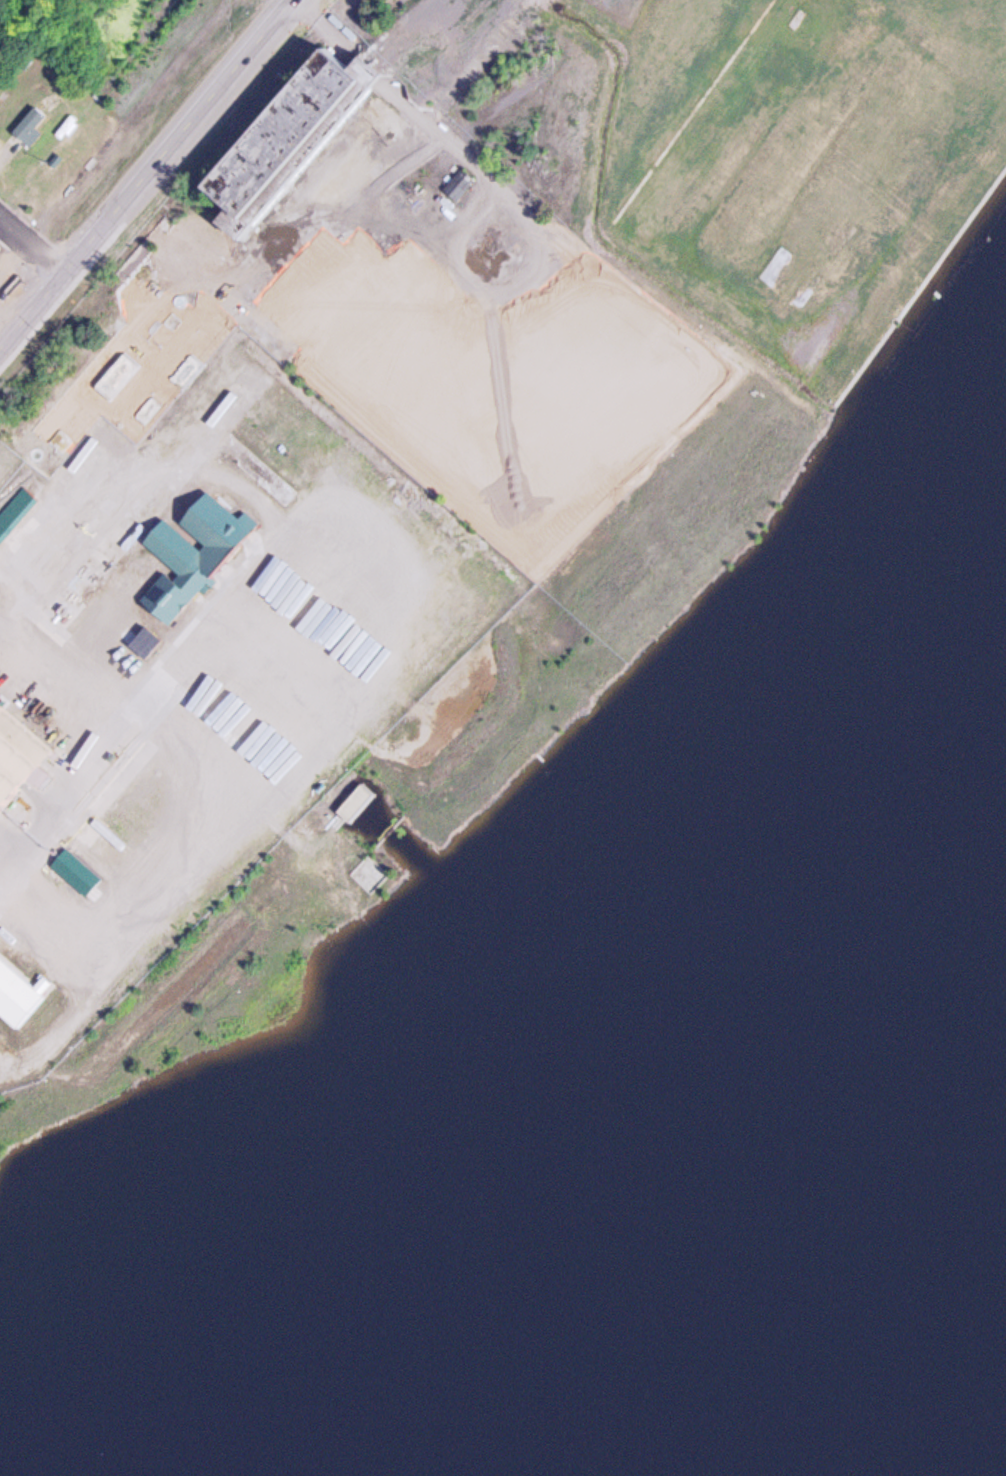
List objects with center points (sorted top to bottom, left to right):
building: (31, 124)
building: (289, 139)
road: (146, 173)
road: (32, 240)
building: (198, 549)
building: (18, 757)
building: (358, 803)
building: (18, 993)

